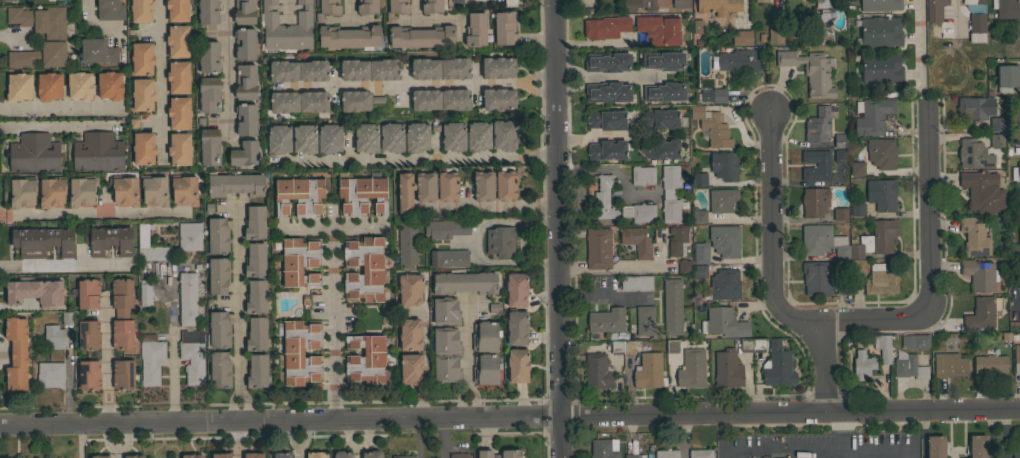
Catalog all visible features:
building: (5, 0)
building: (457, 0)
building: (492, 0)
building: (761, 1)
building: (973, 1)
building: (510, 3)
building: (822, 3)
building: (680, 4)
building: (638, 5)
building: (880, 5)
building: (368, 6)
building: (432, 6)
building: (719, 6)
road: (415, 7)
road: (286, 8)
road: (346, 8)
building: (1007, 8)
building: (110, 9)
building: (327, 9)
building: (397, 9)
building: (141, 10)
building: (177, 10)
building: (935, 10)
building: (208, 11)
building: (244, 12)
road: (954, 15)
road: (92, 24)
building: (697, 26)
building: (504, 27)
building: (605, 27)
building: (287, 28)
building: (975, 28)
building: (476, 29)
building: (659, 29)
building: (880, 31)
building: (775, 34)
road: (15, 35)
building: (55, 36)
building: (421, 36)
building: (349, 37)
building: (742, 37)
building: (178, 40)
building: (245, 43)
road: (920, 44)
building: (97, 50)
building: (209, 57)
building: (142, 58)
building: (664, 60)
building: (738, 61)
building: (608, 62)
building: (498, 66)
road: (225, 67)
building: (880, 67)
building: (425, 68)
building: (454, 68)
building: (354, 69)
building: (384, 69)
building: (313, 70)
building: (283, 71)
building: (810, 71)
road: (160, 75)
road: (607, 76)
building: (179, 77)
building: (1019, 77)
building: (1006, 78)
building: (245, 82)
road: (420, 82)
building: (80, 85)
building: (110, 85)
building: (49, 86)
building: (19, 87)
building: (664, 91)
building: (608, 92)
building: (142, 93)
building: (209, 94)
building: (704, 95)
building: (719, 95)
building: (499, 98)
building: (425, 99)
building: (455, 99)
building: (358, 100)
building: (284, 101)
building: (313, 101)
building: (975, 107)
road: (59, 110)
building: (179, 112)
building: (872, 115)
building: (246, 119)
building: (607, 119)
building: (660, 119)
building: (132, 123)
building: (997, 123)
building: (818, 125)
building: (712, 126)
building: (478, 135)
building: (504, 135)
building: (453, 136)
building: (366, 137)
building: (392, 137)
building: (416, 137)
road: (590, 137)
building: (278, 138)
building: (304, 138)
building: (329, 138)
building: (840, 140)
building: (997, 140)
building: (209, 146)
building: (143, 148)
building: (661, 148)
building: (179, 149)
building: (607, 150)
building: (97, 152)
building: (34, 153)
building: (244, 153)
building: (882, 153)
building: (973, 154)
building: (840, 155)
road: (422, 159)
building: (724, 165)
building: (816, 165)
building: (857, 168)
road: (612, 171)
building: (1016, 171)
building: (642, 174)
building: (699, 178)
building: (406, 181)
building: (692, 181)
building: (235, 184)
building: (483, 185)
building: (505, 185)
building: (447, 186)
building: (124, 189)
building: (154, 189)
building: (184, 189)
building: (82, 190)
building: (22, 191)
building: (51, 191)
building: (982, 191)
building: (670, 193)
building: (361, 194)
building: (426, 194)
building: (882, 194)
building: (299, 195)
building: (397, 195)
building: (603, 199)
building: (722, 200)
building: (815, 201)
road: (496, 205)
building: (208, 208)
building: (857, 209)
building: (639, 212)
building: (840, 213)
road: (91, 214)
building: (699, 216)
building: (255, 222)
road: (336, 225)
road: (308, 226)
building: (446, 228)
road: (560, 228)
building: (190, 236)
building: (217, 236)
building: (974, 237)
building: (874, 239)
building: (109, 240)
road: (472, 240)
building: (677, 240)
building: (725, 240)
building: (1019, 240)
building: (42, 241)
building: (500, 241)
building: (637, 241)
road: (773, 241)
building: (823, 241)
building: (407, 244)
building: (151, 246)
building: (598, 248)
building: (700, 254)
building: (449, 257)
building: (255, 259)
building: (299, 262)
road: (65, 264)
building: (345, 264)
building: (685, 265)
building: (857, 266)
road: (932, 267)
building: (365, 268)
building: (699, 273)
building: (980, 274)
building: (218, 275)
building: (817, 278)
building: (881, 280)
building: (463, 282)
building: (636, 282)
building: (723, 285)
building: (843, 286)
building: (1019, 288)
building: (410, 289)
building: (516, 289)
building: (16, 290)
building: (145, 292)
building: (88, 293)
road: (603, 295)
building: (256, 297)
building: (187, 298)
building: (54, 299)
road: (1018, 301)
building: (304, 302)
building: (672, 306)
building: (492, 308)
building: (446, 311)
building: (982, 312)
building: (122, 313)
building: (1019, 317)
building: (67, 318)
road: (237, 318)
building: (645, 320)
building: (605, 321)
building: (724, 322)
building: (517, 327)
building: (219, 329)
building: (89, 334)
building: (256, 334)
building: (410, 334)
building: (54, 336)
building: (485, 336)
building: (446, 341)
road: (332, 342)
building: (914, 342)
building: (345, 345)
building: (751, 345)
building: (623, 346)
road: (170, 347)
building: (672, 347)
building: (881, 348)
building: (299, 352)
building: (17, 354)
building: (192, 355)
building: (151, 358)
building: (367, 359)
building: (1016, 359)
road: (106, 364)
building: (518, 365)
building: (949, 365)
building: (990, 365)
road: (467, 366)
building: (862, 366)
building: (446, 367)
building: (776, 367)
road: (425, 368)
building: (486, 368)
building: (726, 368)
building: (908, 368)
building: (220, 369)
building: (411, 369)
building: (257, 370)
building: (690, 370)
building: (598, 371)
building: (647, 371)
building: (50, 374)
building: (89, 374)
building: (123, 374)
road: (825, 374)
road: (510, 422)
road: (845, 426)
road: (441, 440)
road: (79, 441)
road: (116, 441)
road: (297, 441)
road: (845, 446)
building: (936, 446)
building: (978, 446)
building: (604, 448)
road: (778, 448)
building: (314, 454)
building: (343, 454)
building: (372, 454)
building: (475, 454)
building: (499, 454)
building: (665, 454)
building: (699, 454)
building: (213, 455)
building: (244, 455)
building: (281, 455)
building: (459, 455)
building: (1016, 455)
building: (101, 456)
building: (134, 456)
building: (192, 456)
building: (404, 456)
building: (631, 456)
building: (18, 457)

